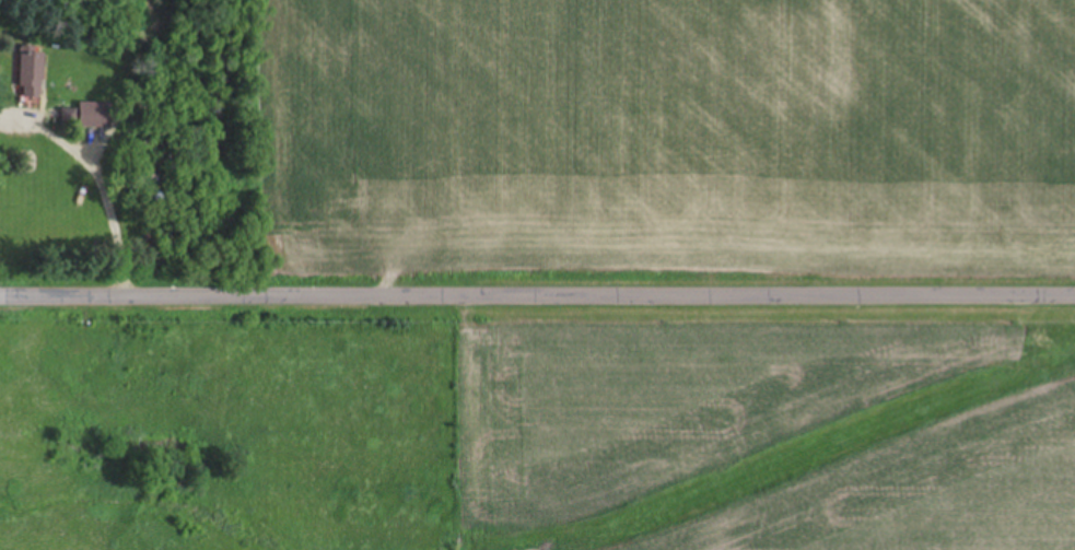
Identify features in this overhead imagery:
building: (33, 77)
building: (96, 116)
road: (537, 296)

